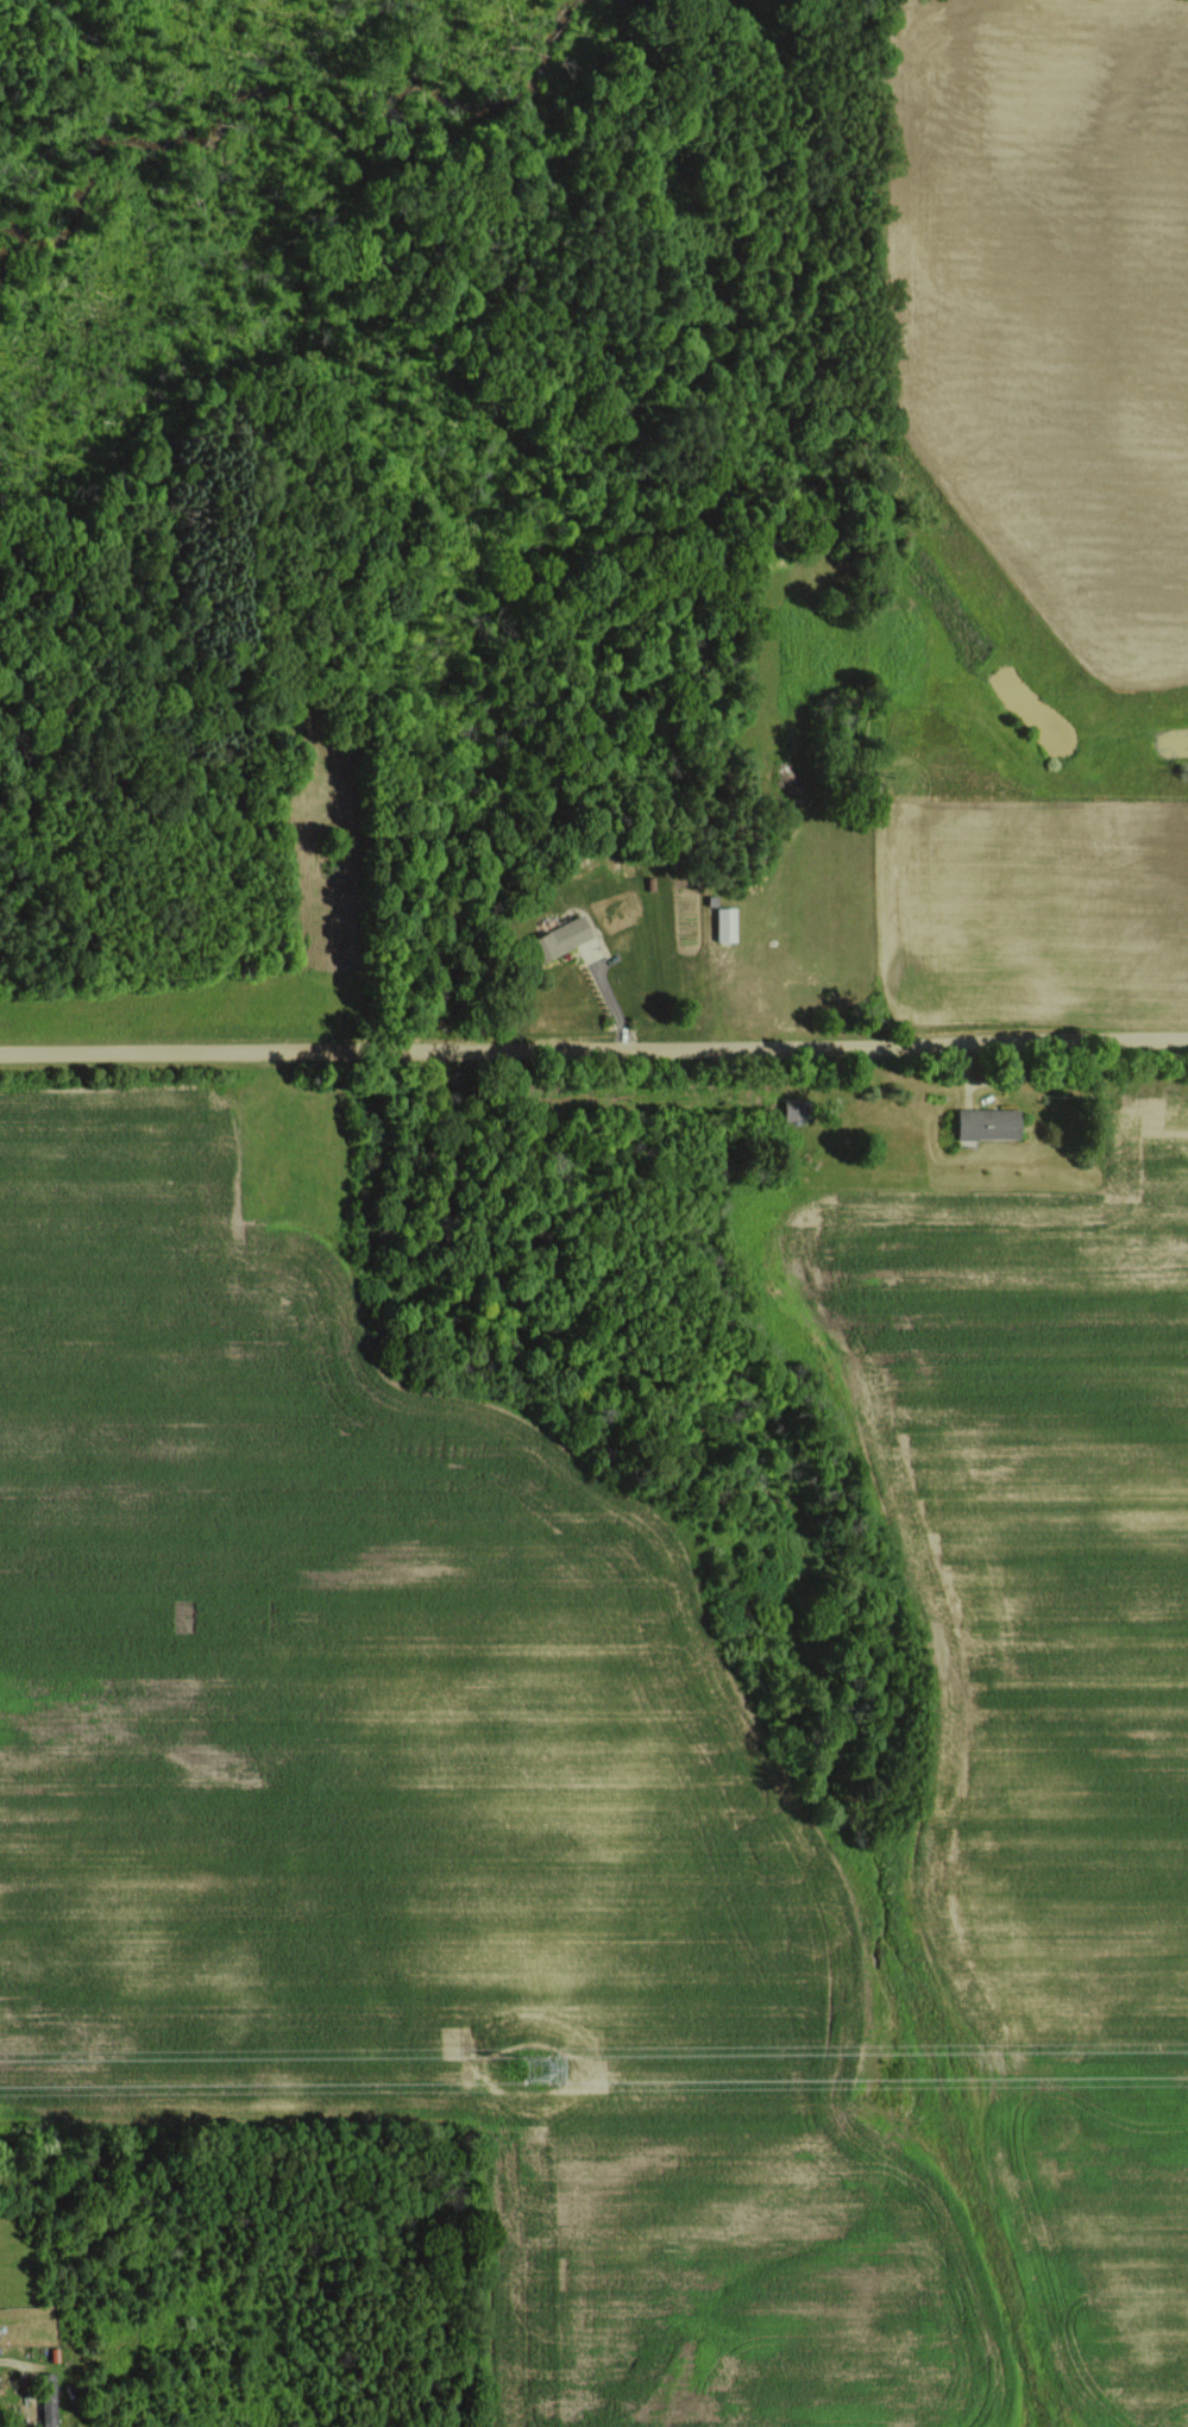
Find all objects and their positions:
building: (727, 923)
building: (564, 936)
road: (593, 1051)
building: (797, 1109)
building: (988, 1123)
power tower: (540, 2065)
road: (10, 2358)

